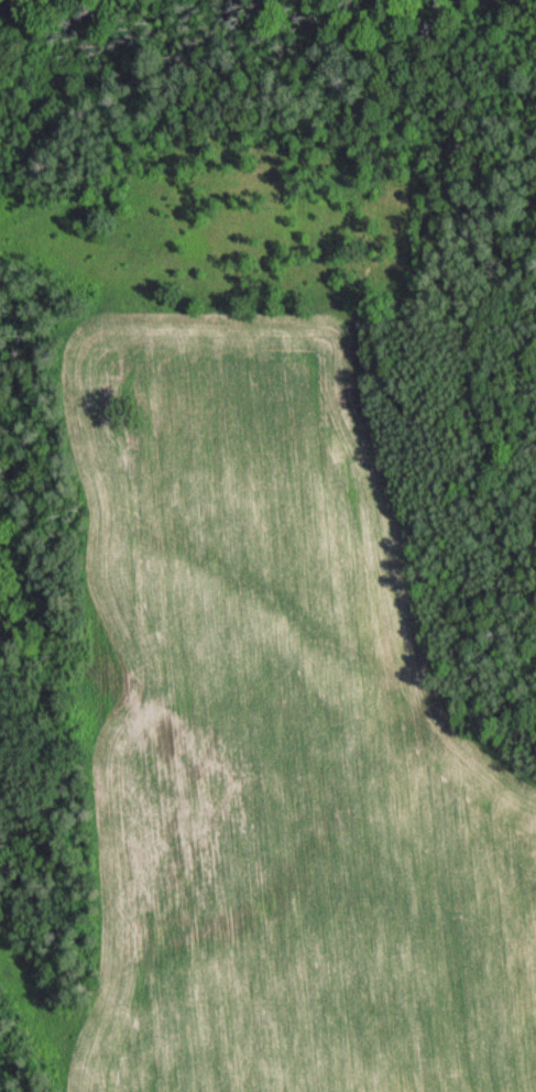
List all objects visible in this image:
river: (11, 4)

